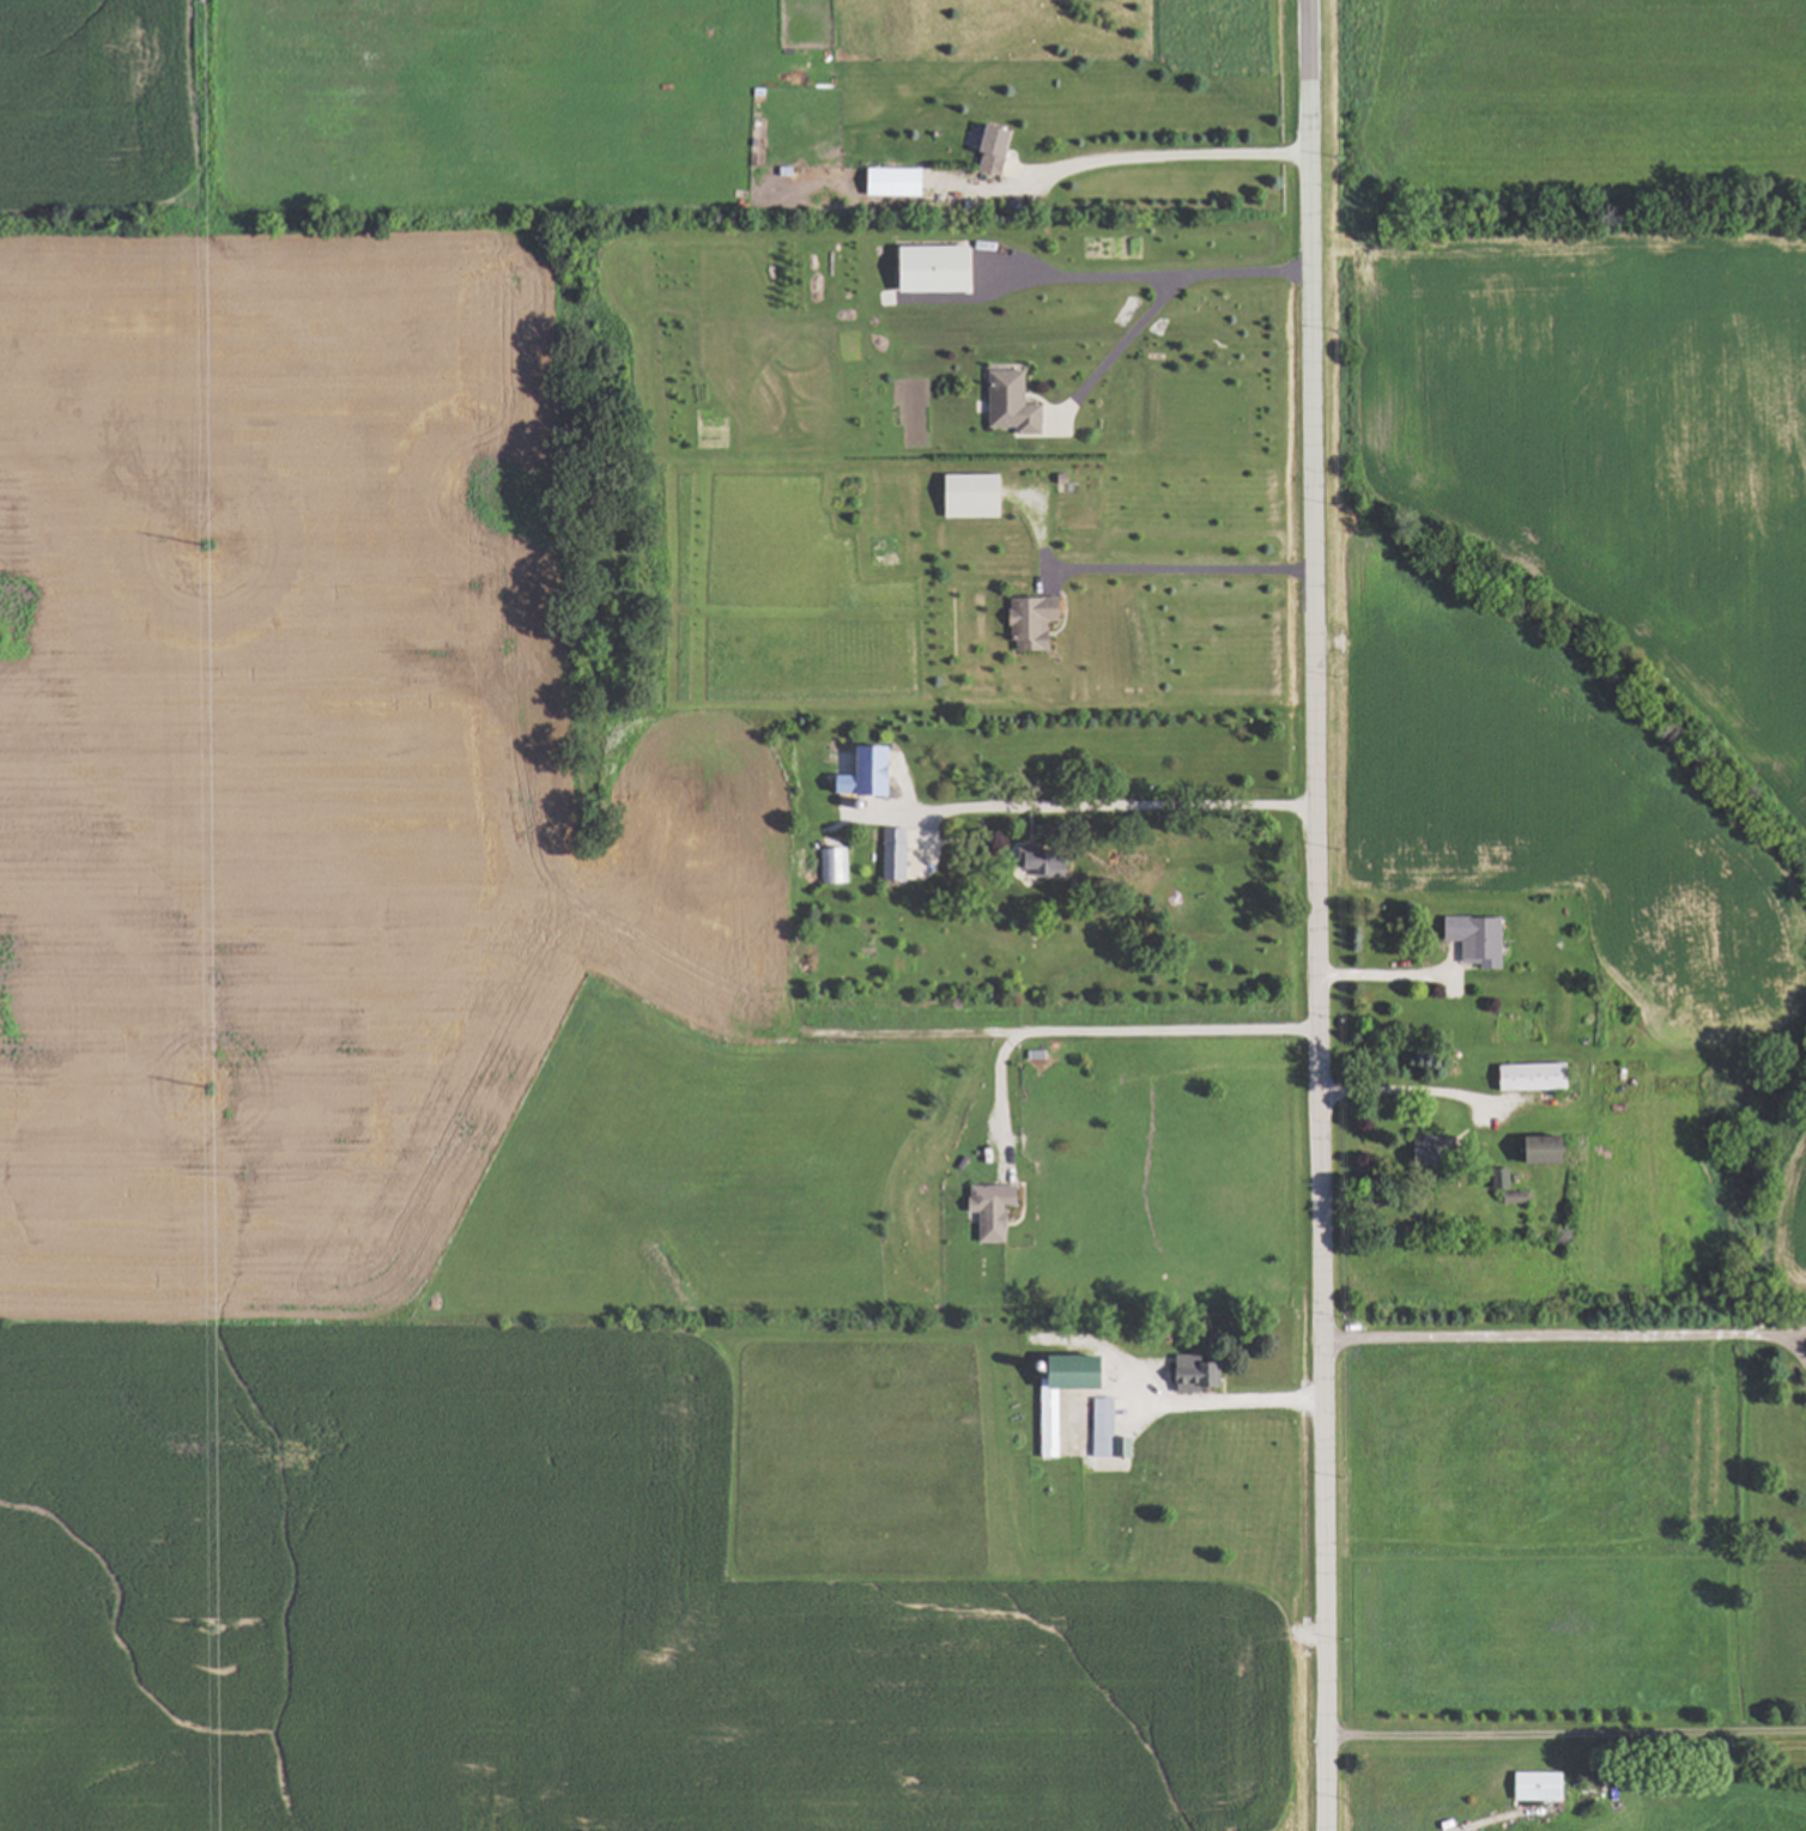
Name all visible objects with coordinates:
building: (986, 147)
road: (1153, 157)
building: (887, 181)
building: (925, 268)
road: (1089, 277)
road: (1158, 297)
building: (1004, 402)
building: (964, 495)
road: (1182, 570)
building: (1025, 620)
building: (857, 774)
road: (1116, 806)
building: (889, 855)
building: (1029, 863)
building: (834, 865)
road: (1311, 915)
building: (1468, 939)
road: (1378, 976)
road: (1101, 1031)
building: (1526, 1077)
road: (1410, 1090)
building: (1532, 1150)
building: (1497, 1178)
building: (984, 1209)
road: (1789, 1334)
road: (1564, 1336)
building: (1186, 1374)
road: (1228, 1401)
building: (1041, 1424)
building: (1102, 1433)
road: (1562, 1736)
building: (1532, 1787)

